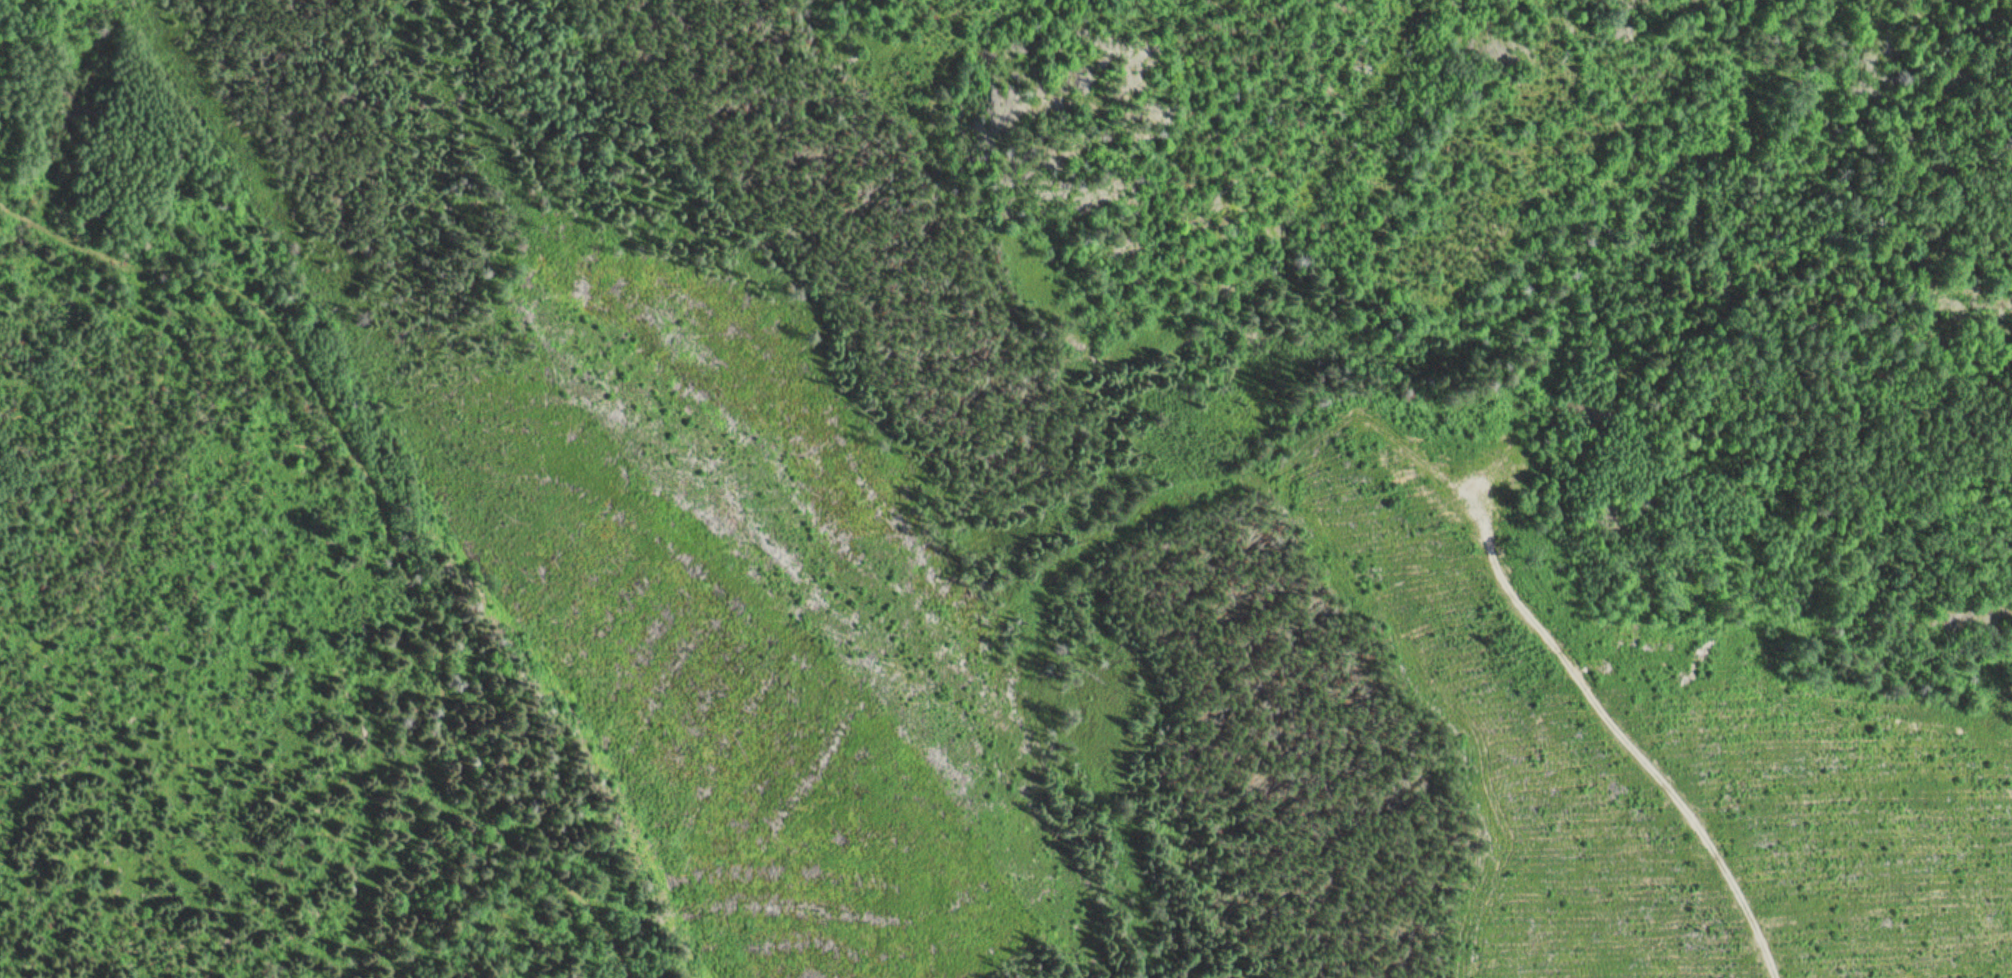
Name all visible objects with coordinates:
road: (390, 525)
road: (1605, 693)

